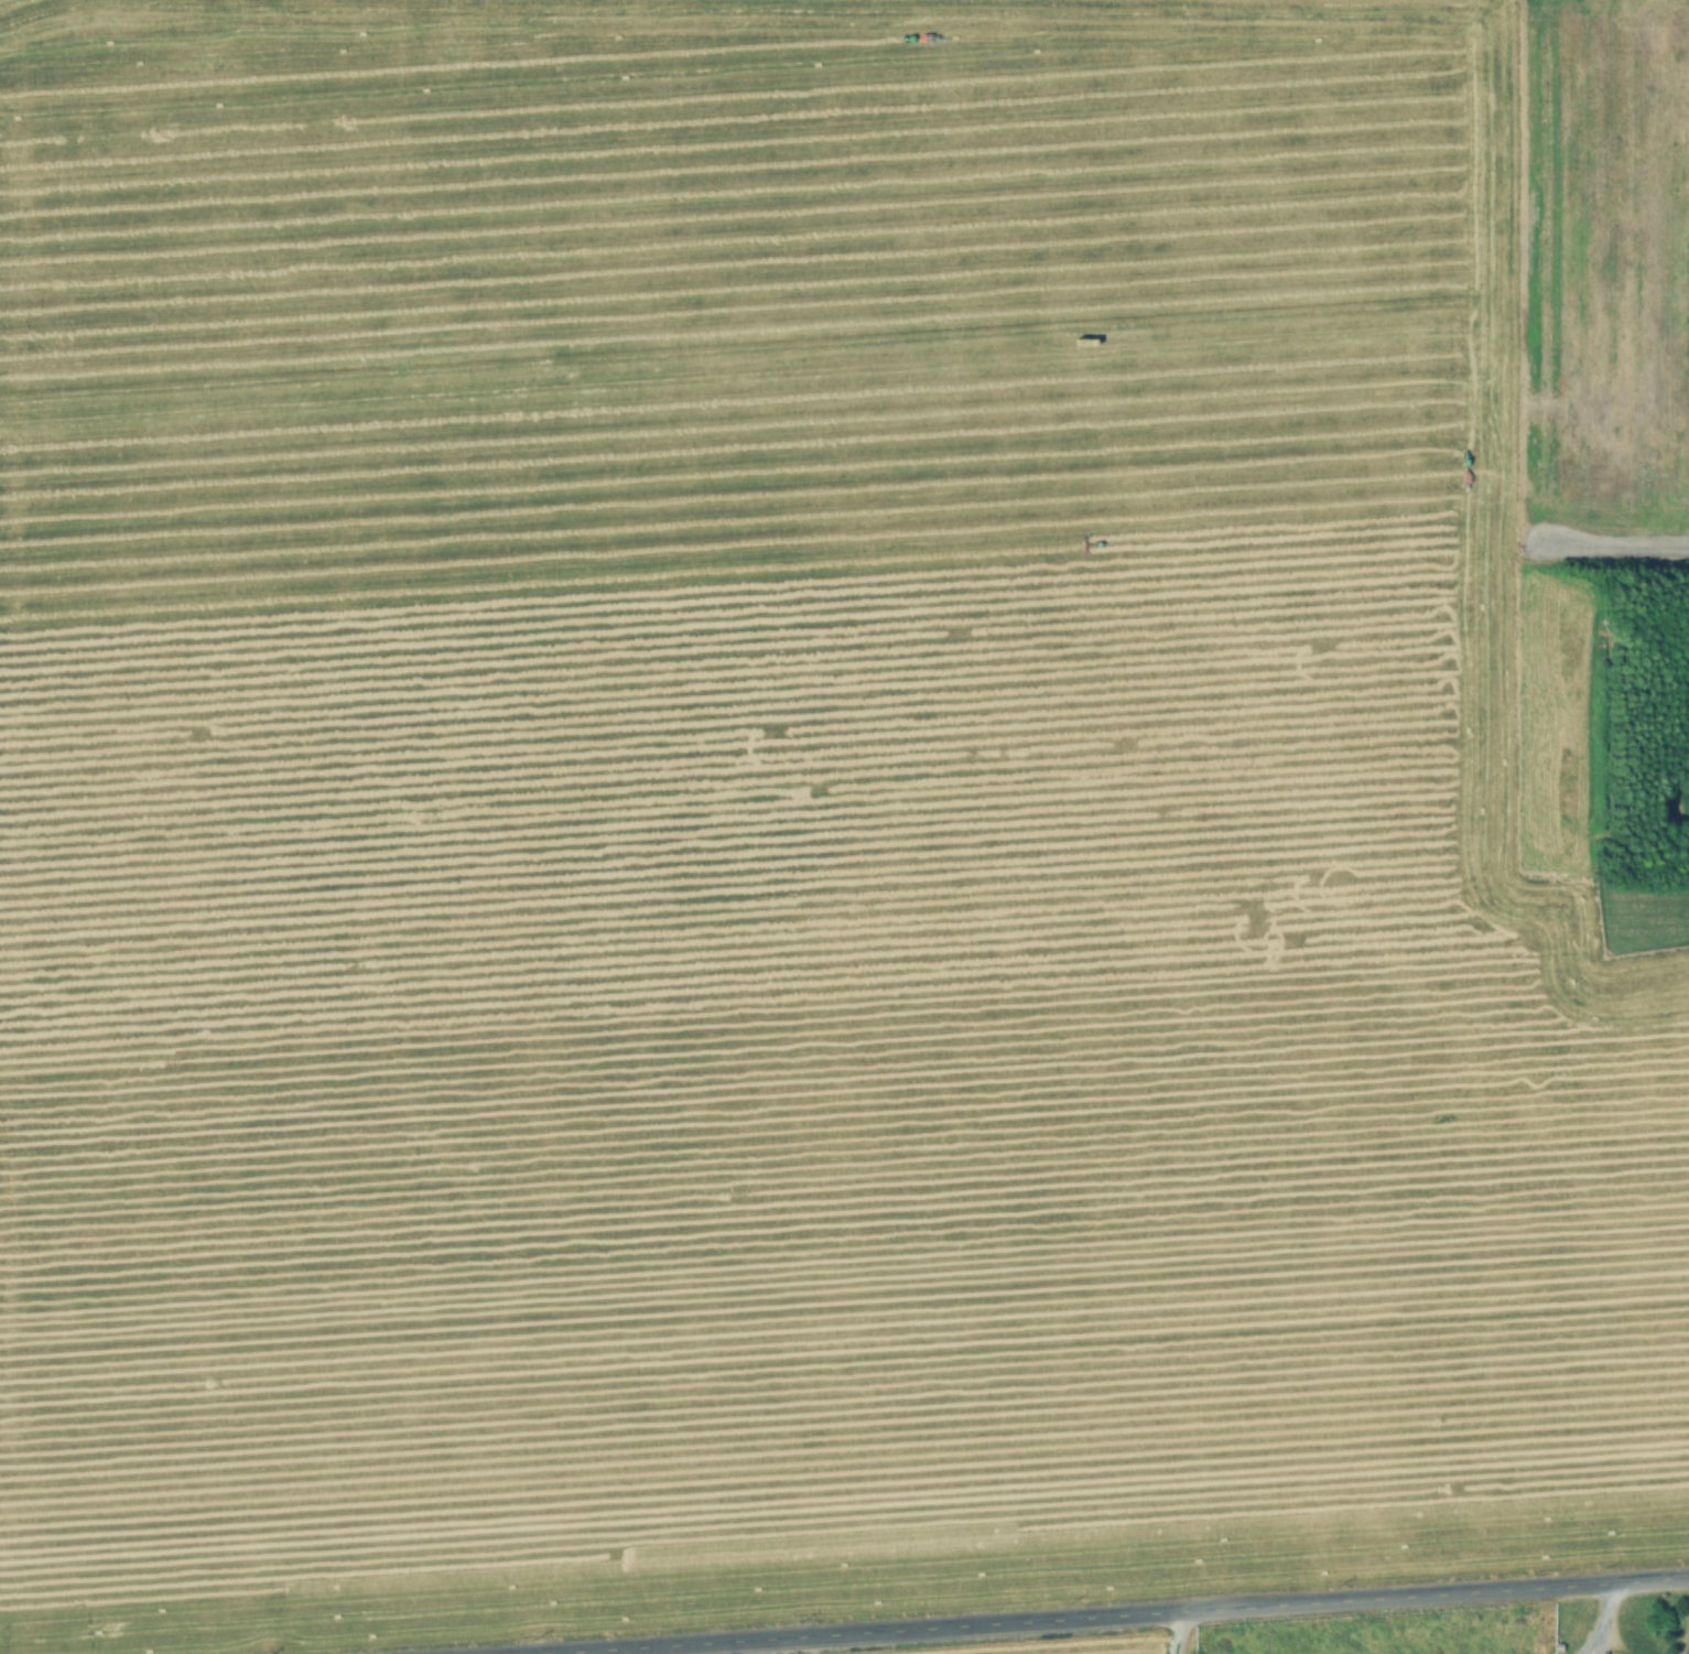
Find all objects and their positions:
road: (1617, 549)
crop: (834, 813)
building: (1574, 1609)
road: (1069, 1610)
road: (1592, 1618)
road: (1176, 1629)

